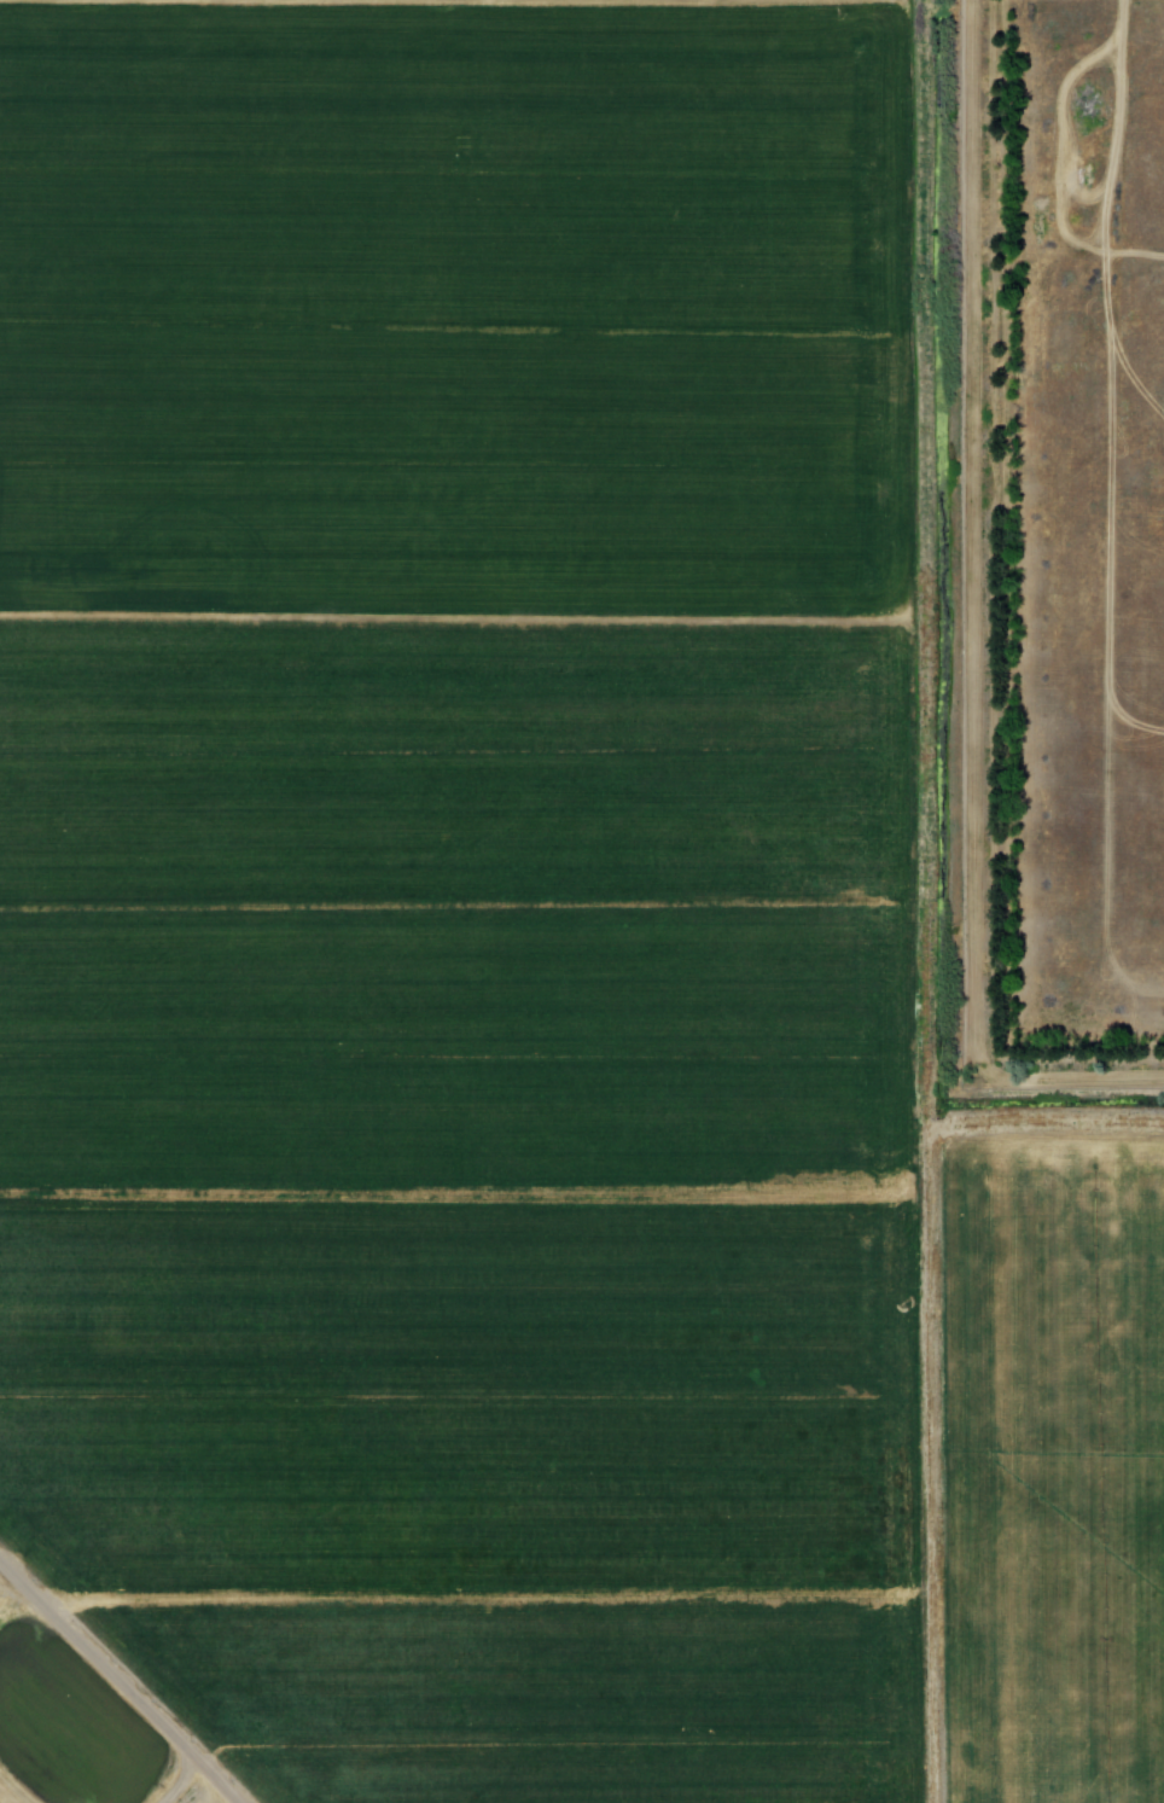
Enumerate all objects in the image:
road: (459, 2)

